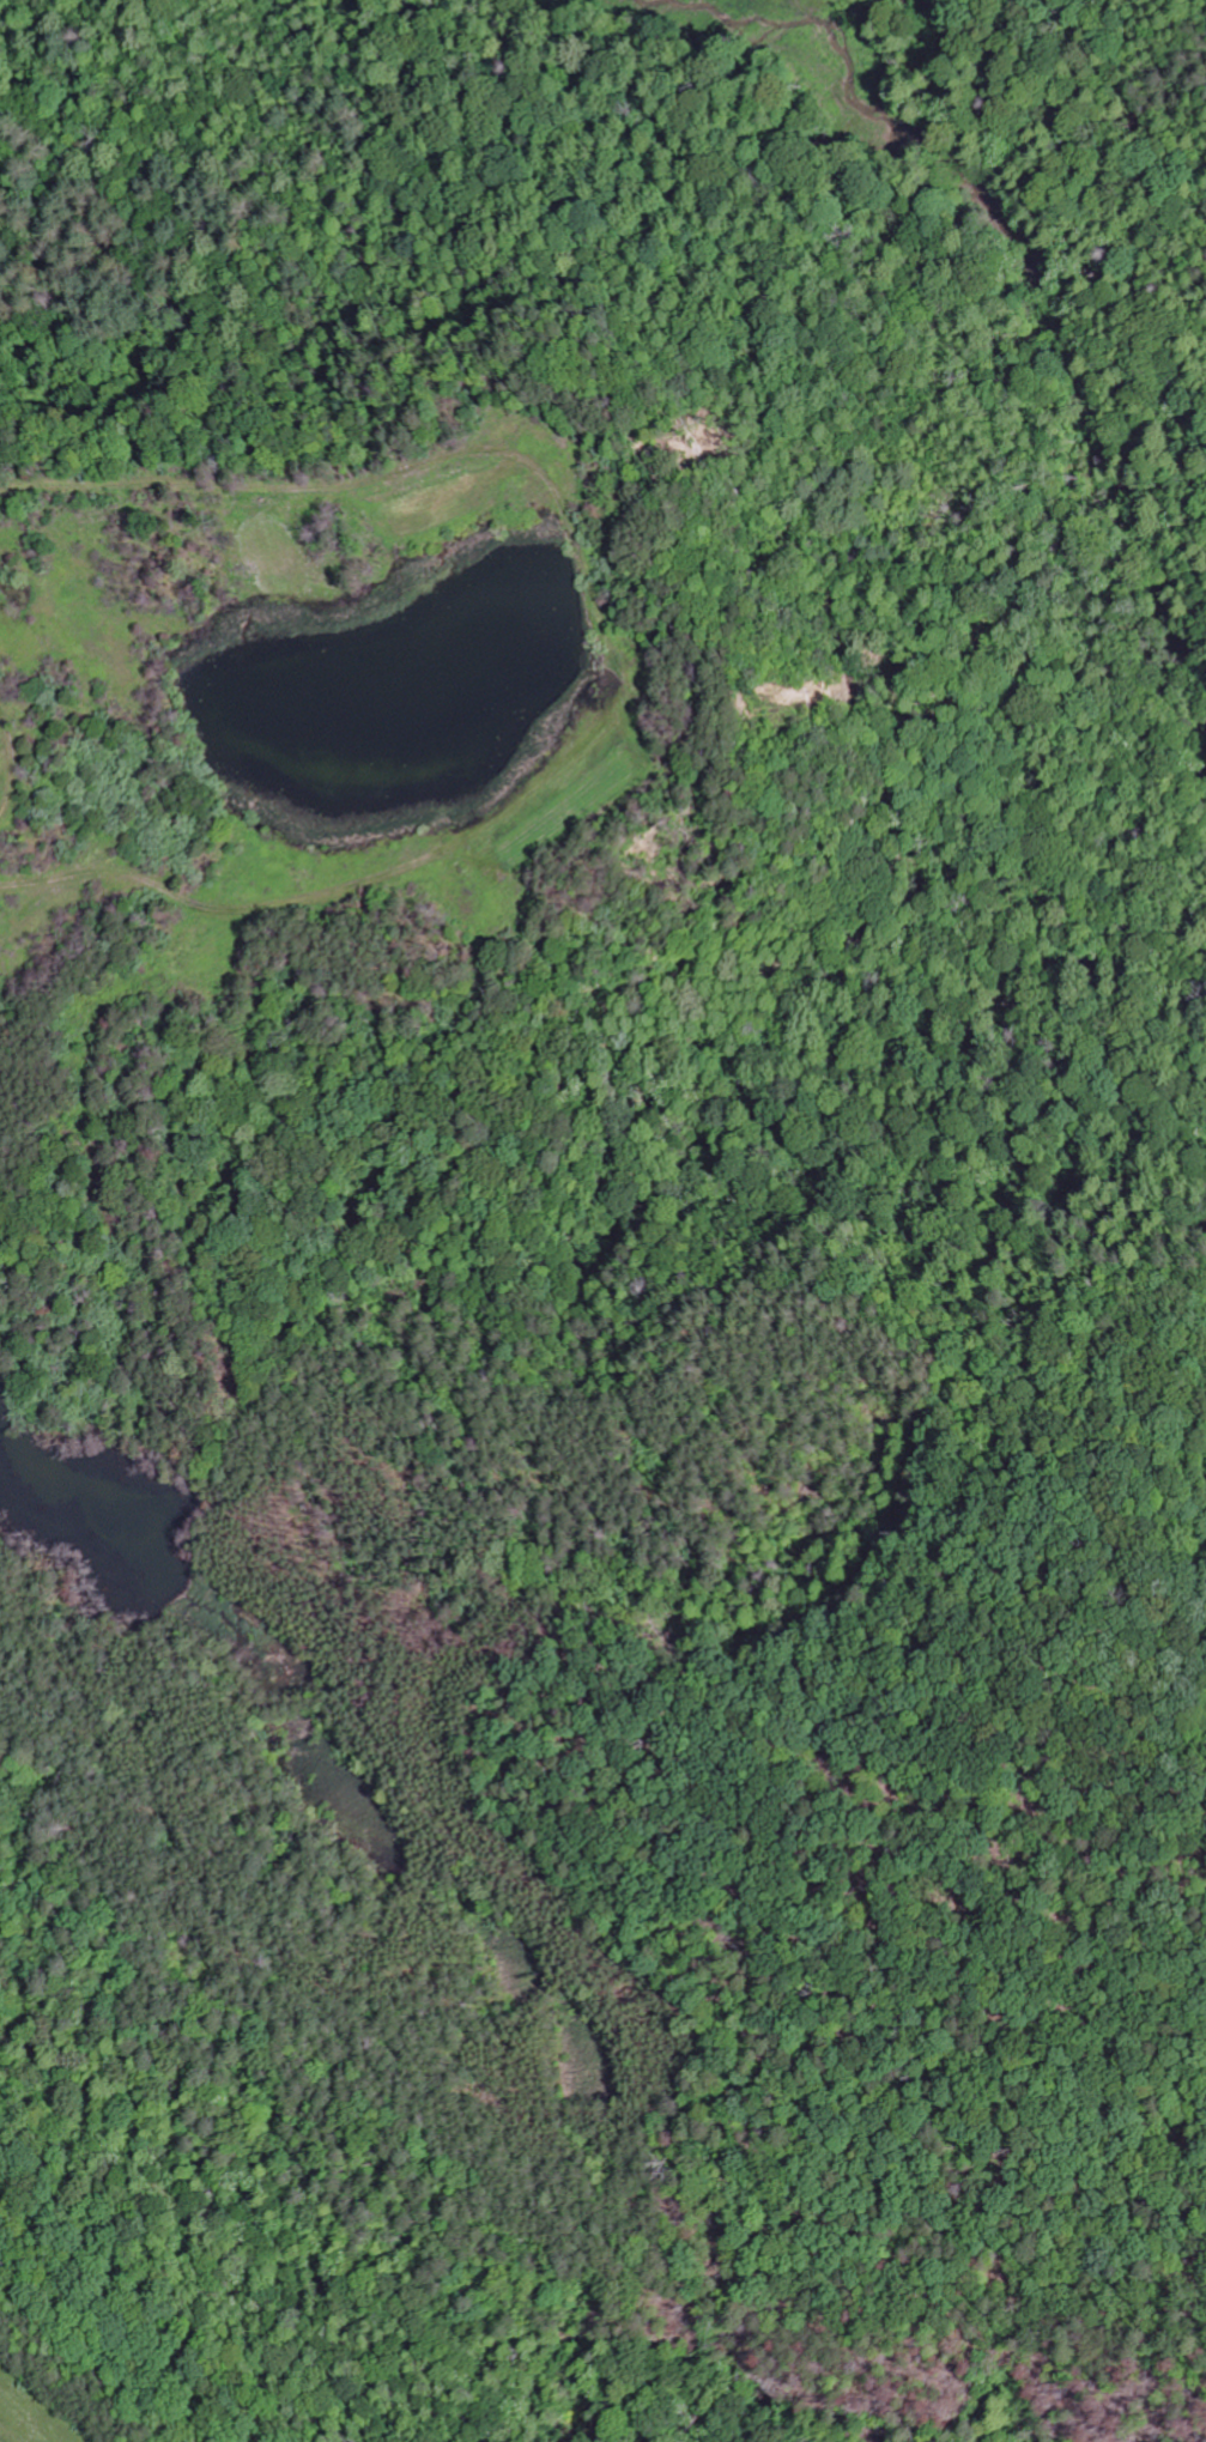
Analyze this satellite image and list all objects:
road: (582, 648)
road: (12, 765)

